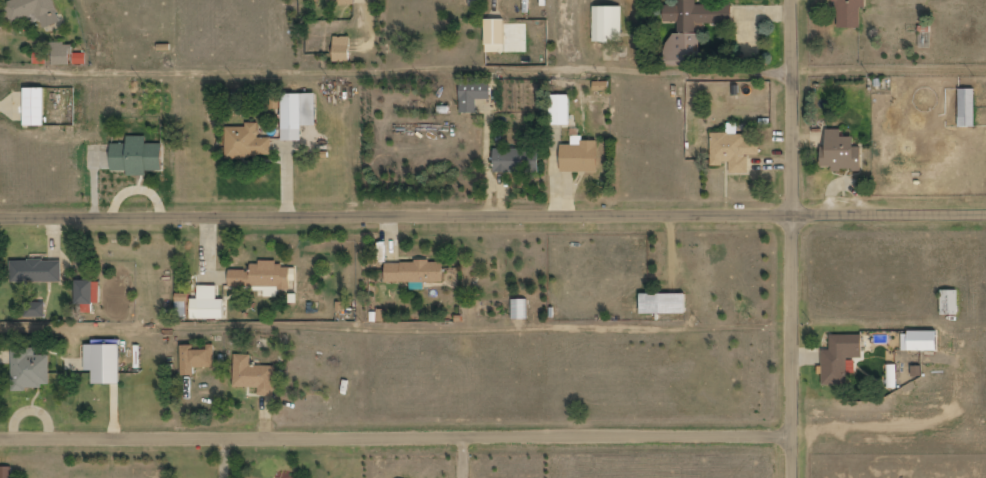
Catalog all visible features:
building: (343, 3)
building: (474, 3)
building: (33, 11)
building: (847, 14)
building: (607, 24)
building: (690, 29)
building: (494, 36)
building: (341, 50)
building: (60, 53)
building: (600, 86)
building: (472, 97)
building: (34, 107)
building: (966, 109)
building: (558, 111)
building: (297, 115)
building: (246, 144)
building: (732, 152)
building: (839, 153)
building: (136, 157)
building: (578, 159)
building: (515, 162)
road: (493, 215)
road: (793, 239)
building: (36, 272)
building: (414, 273)
building: (261, 277)
building: (85, 294)
building: (949, 303)
building: (181, 305)
building: (662, 305)
building: (519, 309)
building: (211, 310)
building: (34, 311)
building: (921, 342)
building: (196, 359)
building: (839, 359)
building: (103, 362)
building: (29, 372)
building: (253, 377)
road: (397, 435)
building: (5, 472)

